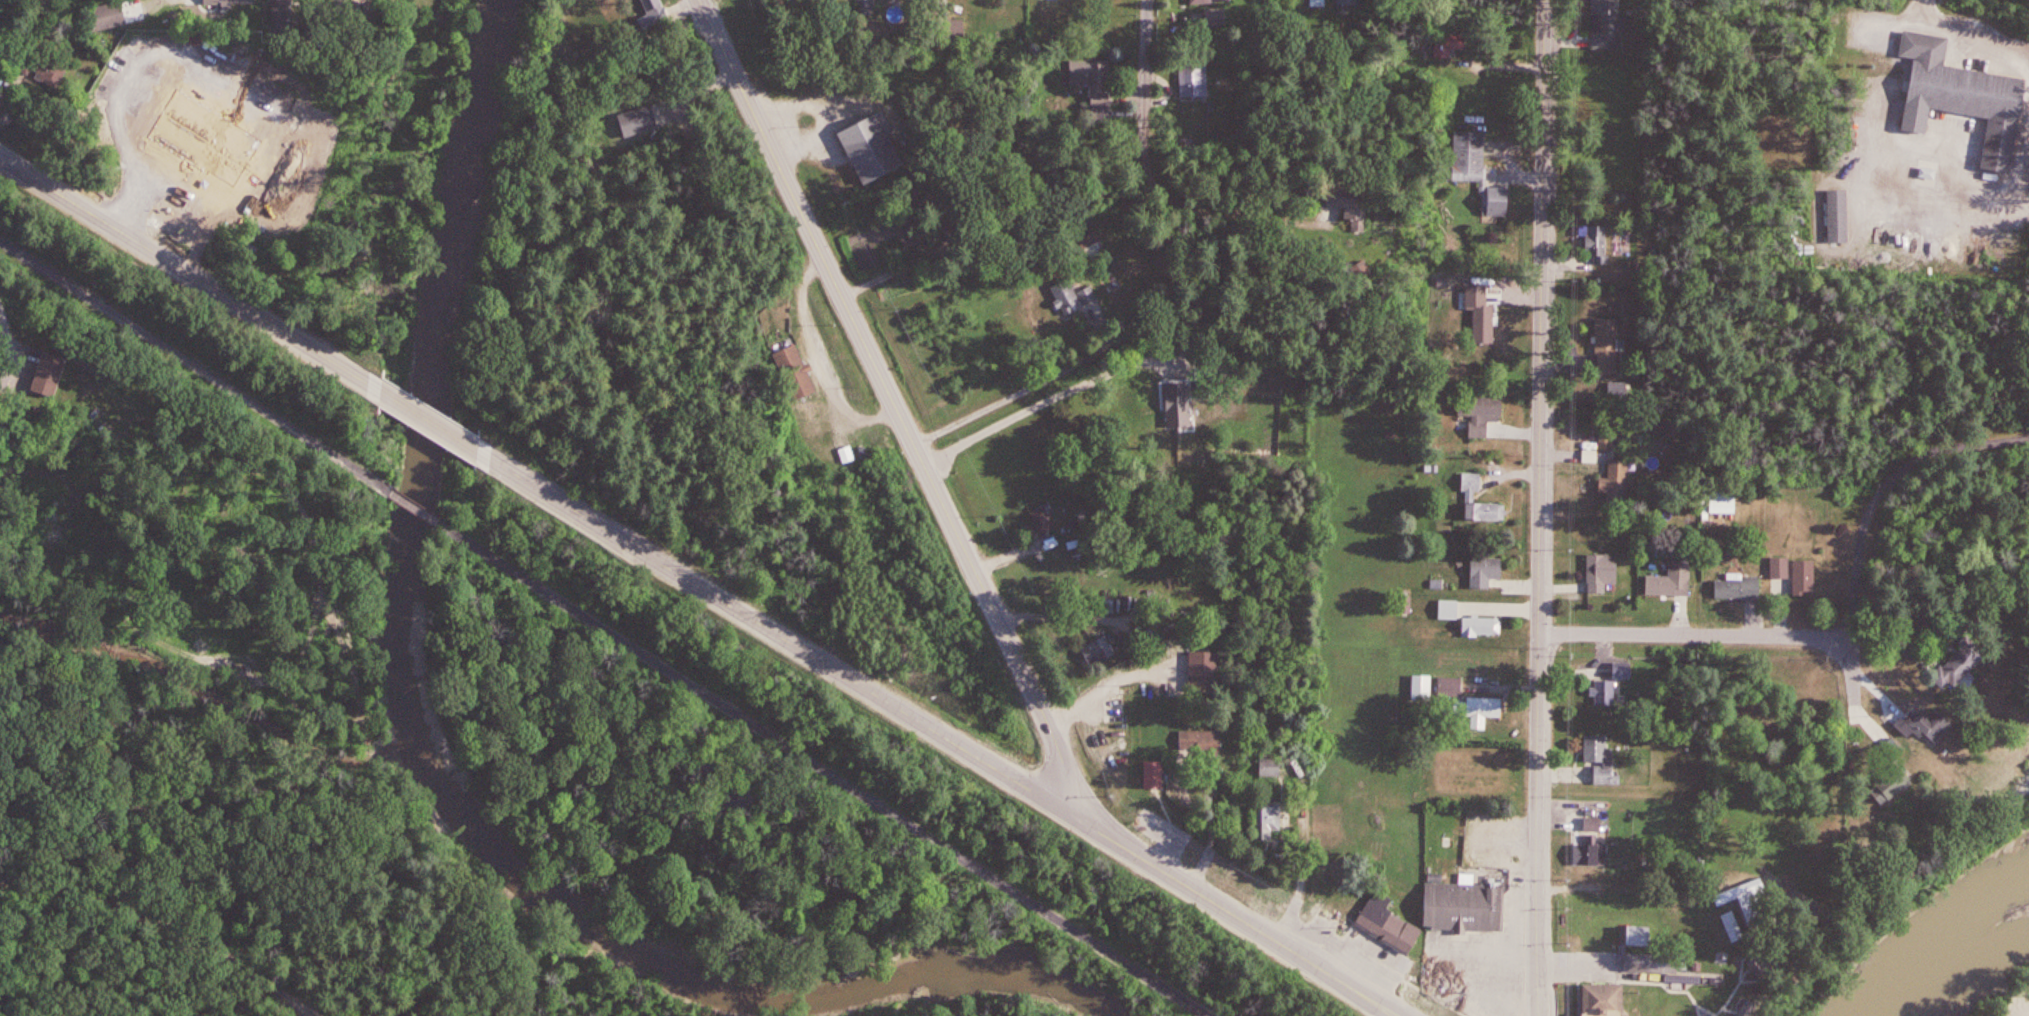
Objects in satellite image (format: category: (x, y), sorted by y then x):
building: (1313, 0)
building: (835, 1)
building: (1203, 1)
building: (1347, 2)
building: (229, 3)
building: (649, 9)
road: (1926, 9)
building: (867, 10)
building: (105, 21)
building: (1606, 26)
building: (1452, 35)
road: (1146, 76)
building: (1197, 76)
building: (37, 79)
building: (1101, 83)
building: (1968, 93)
building: (637, 120)
building: (876, 146)
building: (1468, 157)
park: (1885, 162)
building: (1336, 195)
building: (1497, 204)
road: (1224, 210)
building: (1837, 213)
building: (1597, 242)
road: (193, 275)
building: (1060, 299)
road: (12, 320)
building: (1609, 343)
road: (818, 360)
road: (196, 366)
building: (51, 371)
building: (793, 374)
road: (1020, 391)
building: (1620, 391)
road: (1054, 396)
building: (1175, 399)
building: (1248, 405)
building: (1482, 409)
road: (435, 424)
road: (907, 430)
building: (1613, 466)
road: (1887, 486)
road: (416, 507)
road: (1541, 507)
road: (1550, 508)
building: (1486, 510)
building: (1042, 520)
road: (770, 553)
building: (1487, 571)
building: (1601, 571)
building: (1780, 572)
building: (1805, 575)
building: (1671, 578)
building: (1438, 583)
building: (1738, 587)
building: (1447, 606)
building: (1480, 627)
road: (1696, 633)
road: (1942, 644)
building: (1095, 650)
building: (1969, 661)
building: (1203, 667)
building: (1621, 668)
road: (1853, 686)
building: (1600, 693)
building: (1495, 708)
building: (1932, 723)
road: (937, 736)
building: (1894, 744)
building: (1202, 745)
river: (426, 750)
building: (1602, 759)
building: (1281, 766)
road: (823, 769)
building: (1154, 774)
building: (1891, 784)
building: (1268, 821)
building: (1591, 854)
building: (1742, 899)
building: (1463, 902)
building: (1387, 923)
road: (165, 927)
building: (1639, 934)
park: (276, 944)
river: (1951, 946)
building: (1775, 962)
building: (1655, 964)
road: (1434, 998)
building: (1606, 1001)
park: (2010, 1001)
road: (2017, 1005)
building: (1752, 1008)

